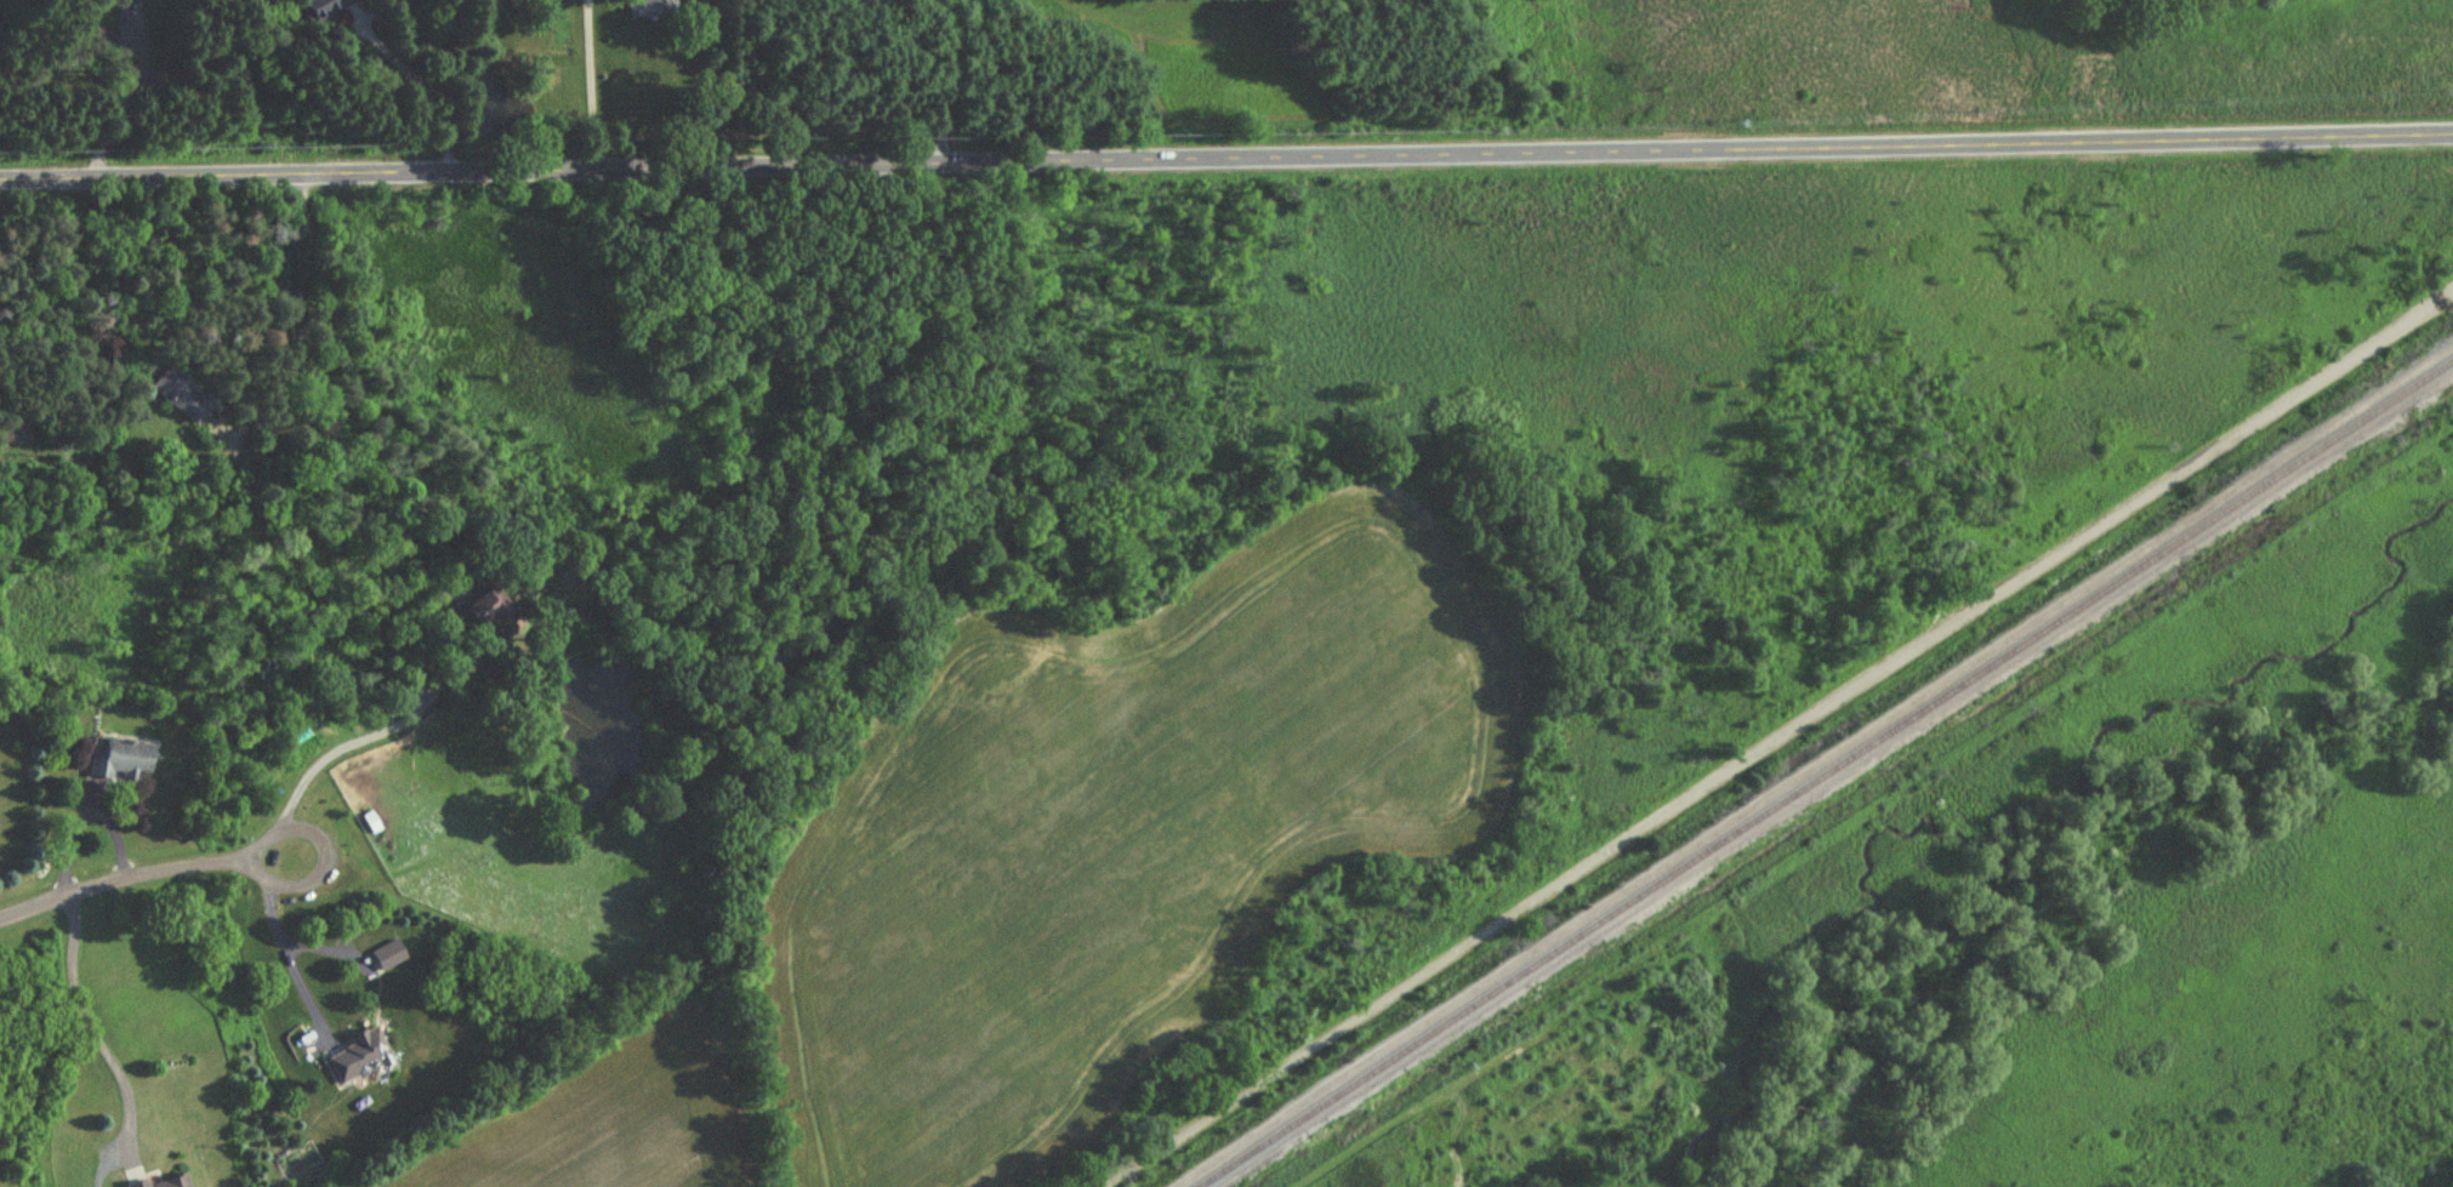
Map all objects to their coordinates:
building: (319, 7)
building: (644, 7)
road: (420, 81)
road: (940, 81)
road: (588, 84)
road: (115, 90)
road: (1225, 156)
road: (2448, 296)
building: (183, 398)
building: (16, 432)
building: (491, 610)
road: (397, 717)
building: (296, 732)
road: (1775, 744)
building: (125, 761)
railway: (1832, 780)
crop: (1120, 827)
road: (146, 873)
road: (281, 936)
building: (391, 957)
road: (90, 1032)
building: (362, 1057)
crop: (603, 1118)
building: (166, 1182)

